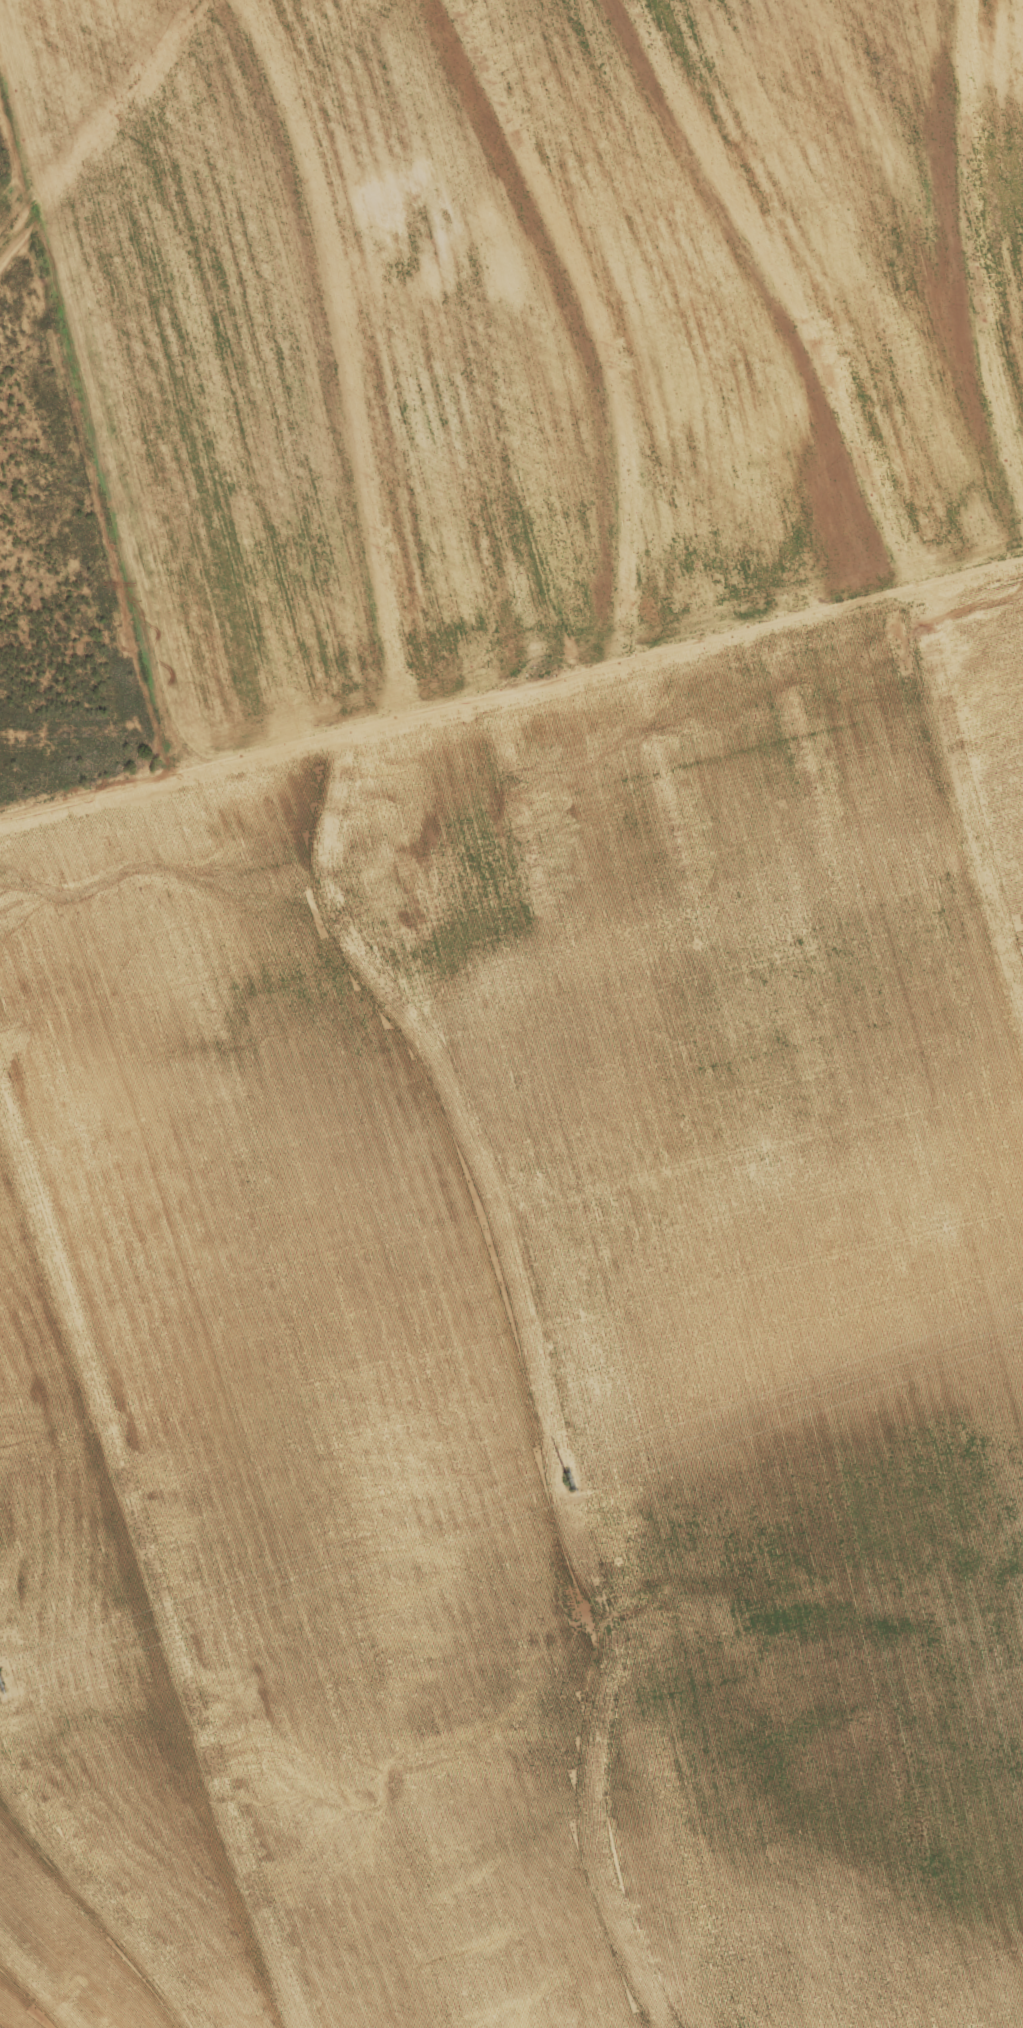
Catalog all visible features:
power tower: (569, 1478)
power tower: (0, 1681)

